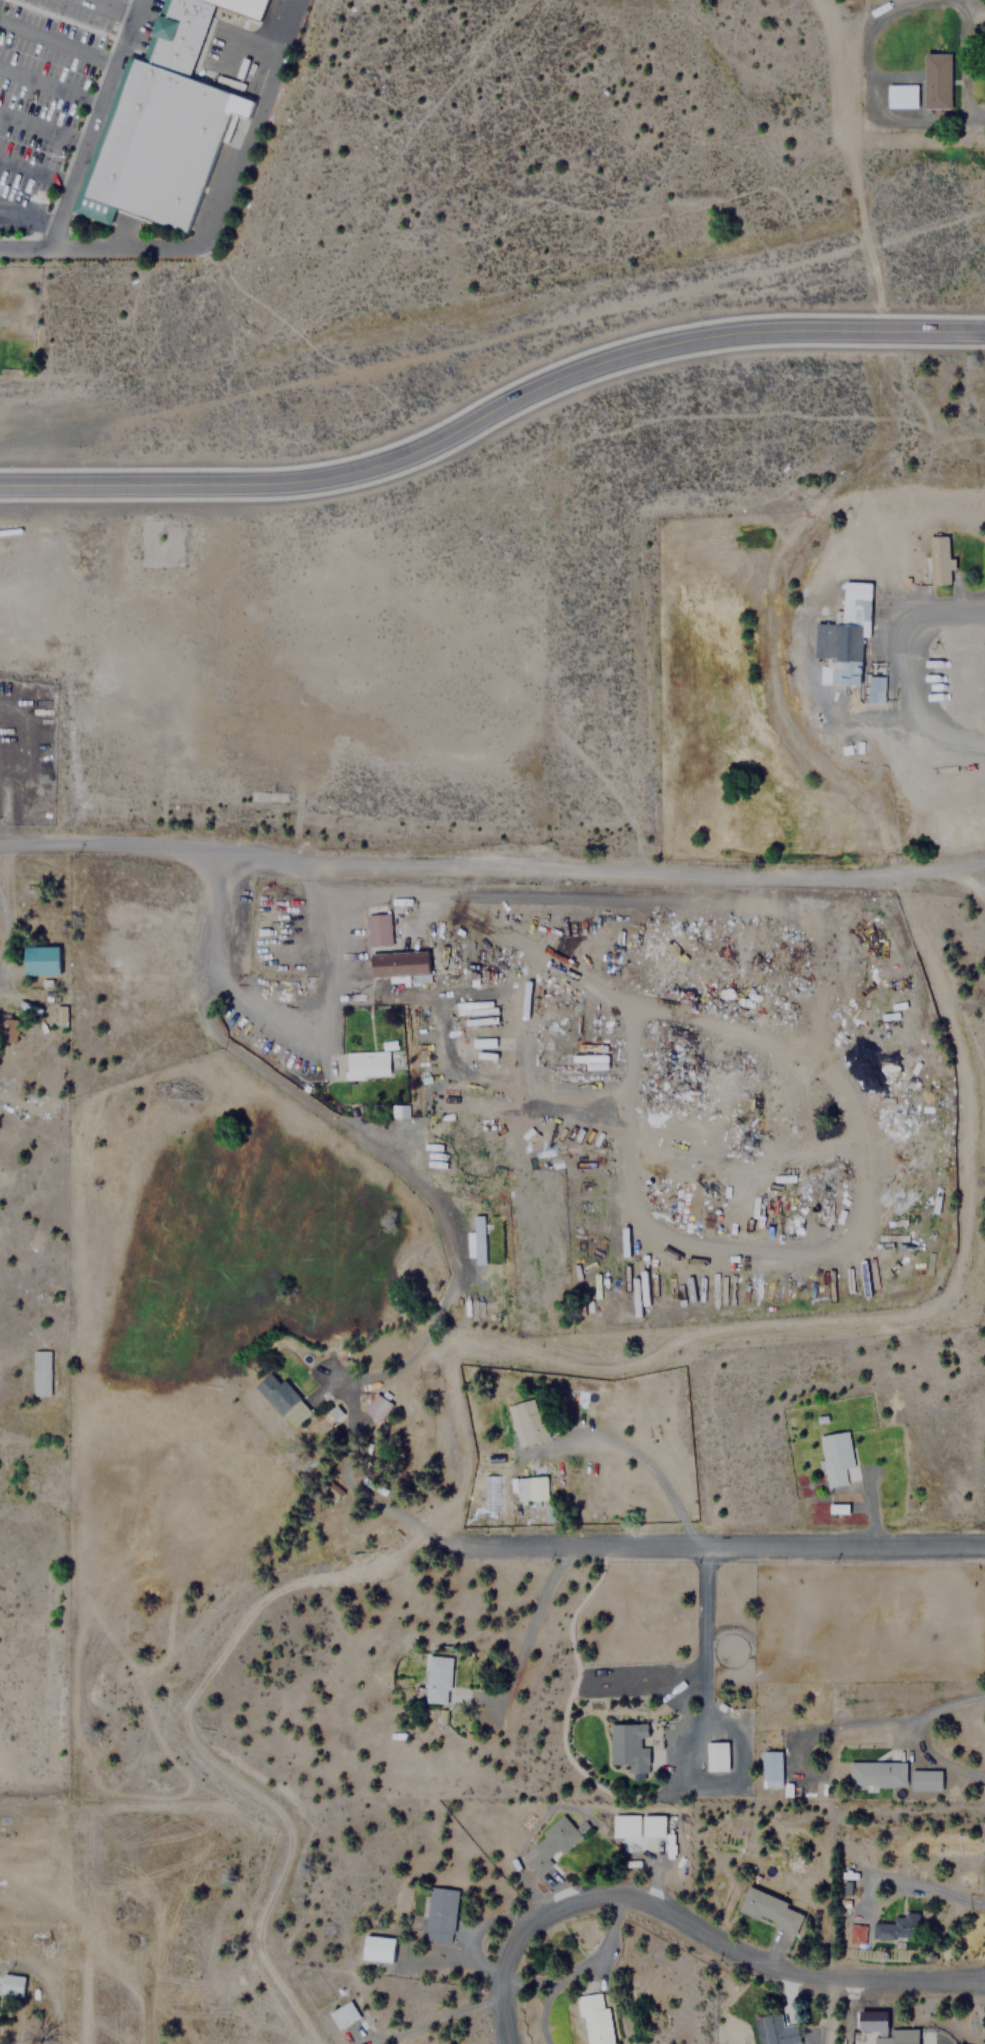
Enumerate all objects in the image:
road: (110, 7)
building: (245, 7)
building: (177, 34)
building: (937, 81)
building: (901, 95)
road: (91, 122)
building: (154, 145)
road: (35, 168)
road: (223, 194)
road: (27, 217)
road: (24, 246)
road: (492, 410)
building: (938, 560)
building: (845, 635)
building: (874, 688)
road: (492, 867)
building: (395, 940)
building: (41, 960)
building: (62, 1014)
building: (366, 1064)
building: (401, 1111)
road: (351, 1129)
building: (478, 1239)
building: (40, 1372)
building: (281, 1398)
building: (376, 1406)
building: (526, 1421)
building: (835, 1456)
building: (531, 1488)
road: (724, 1544)
building: (437, 1678)
building: (628, 1744)
building: (716, 1755)
building: (771, 1768)
building: (877, 1773)
building: (925, 1778)
building: (624, 1825)
building: (652, 1825)
building: (549, 1845)
building: (770, 1910)
building: (439, 1914)
building: (895, 1928)
building: (855, 1933)
building: (377, 1948)
road: (749, 1954)
building: (11, 1984)
road: (509, 1985)
building: (342, 2014)
building: (594, 2019)
building: (778, 2030)
building: (888, 2030)

